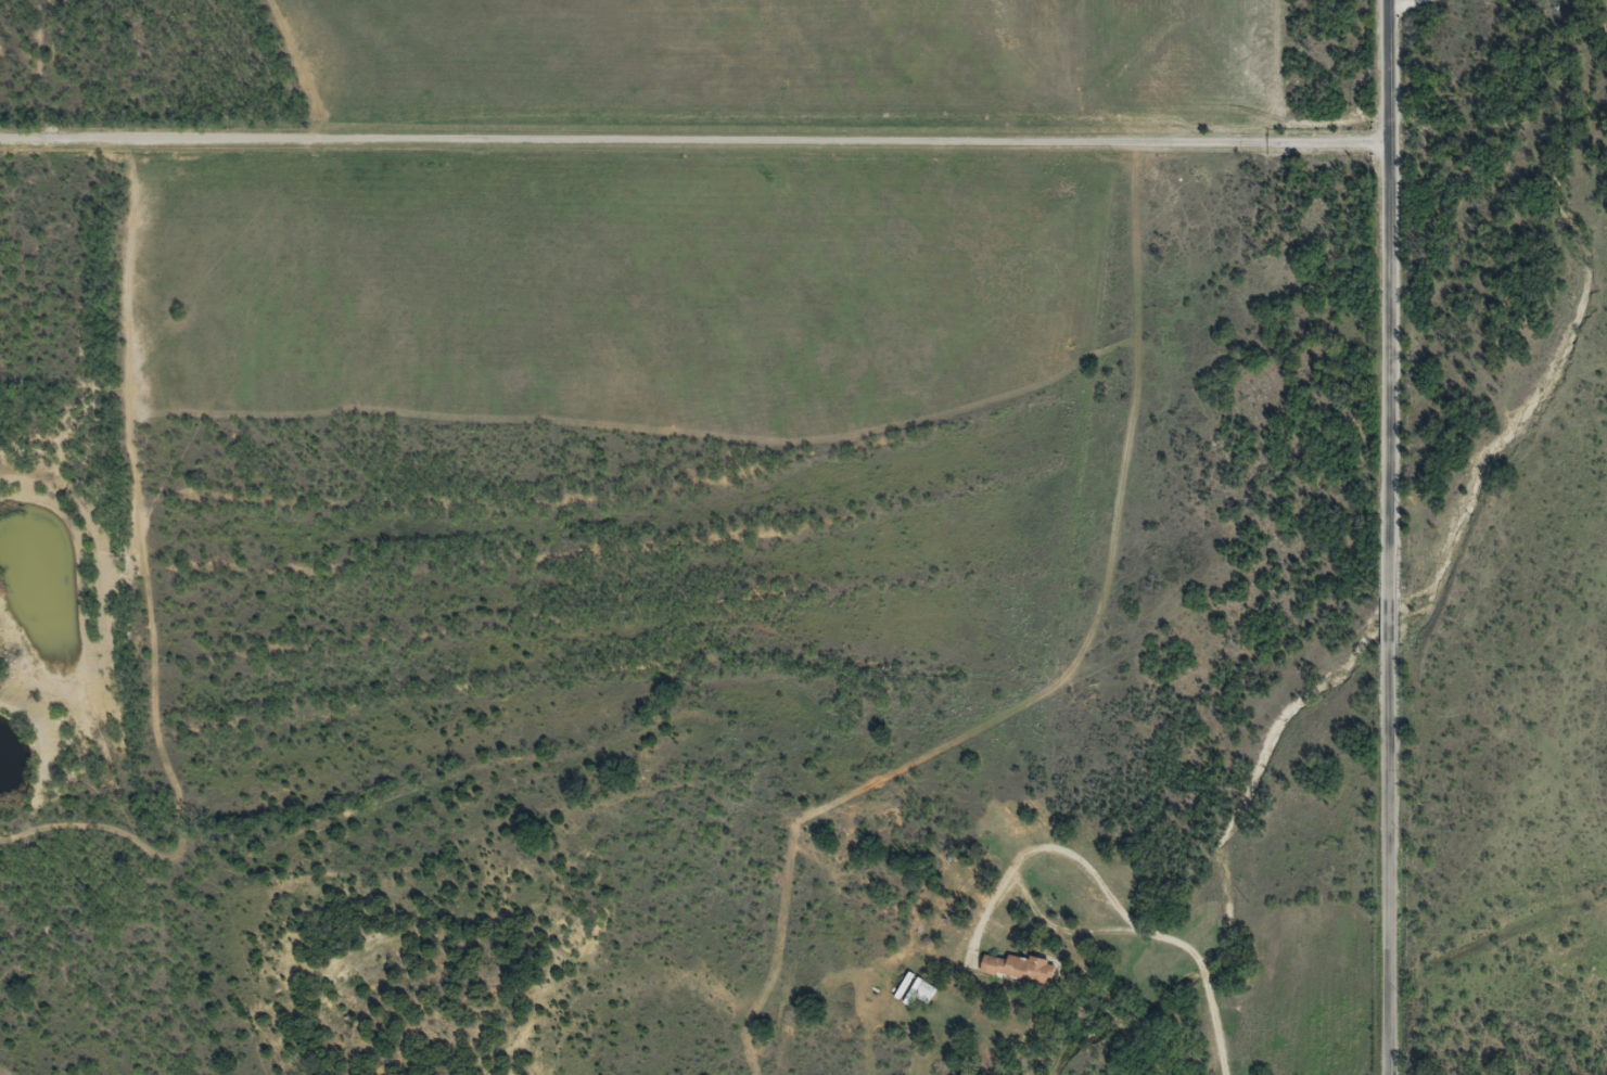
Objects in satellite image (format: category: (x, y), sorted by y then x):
road: (1402, 84)
road: (701, 162)
road: (1417, 616)
road: (754, 818)
building: (1018, 967)

